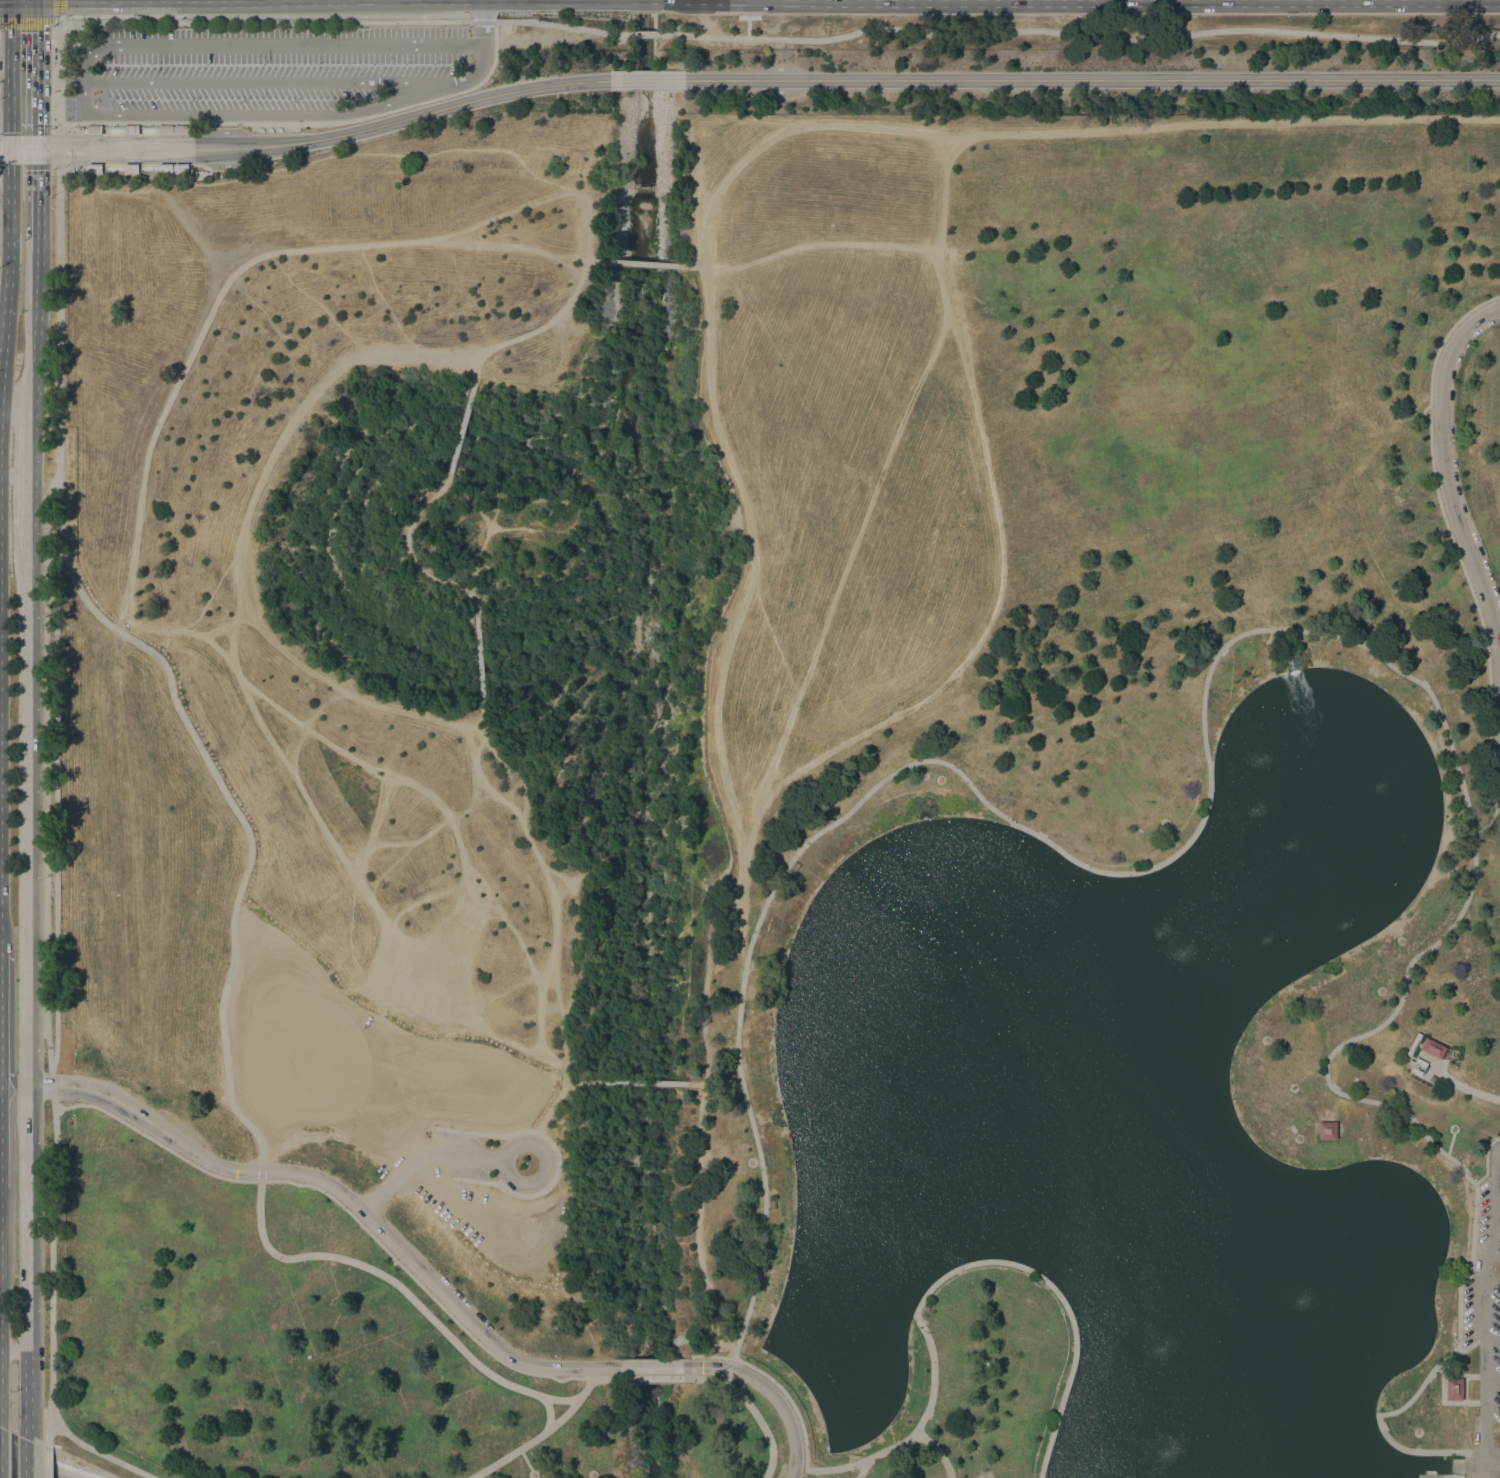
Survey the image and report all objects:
road: (54, 9)
road: (27, 19)
road: (342, 20)
road: (647, 33)
road: (1081, 36)
road: (36, 40)
road: (268, 44)
road: (10, 57)
road: (479, 60)
parking lot: (261, 66)
road: (55, 76)
road: (256, 81)
road: (58, 82)
road: (243, 114)
road: (36, 115)
road: (5, 117)
road: (303, 122)
building: (94, 129)
building: (130, 129)
building: (164, 129)
building: (180, 129)
road: (124, 131)
road: (10, 132)
road: (1059, 132)
traffic signals: (10, 148)
traffic signals: (36, 148)
road: (58, 148)
road: (9, 165)
road: (125, 165)
building: (129, 168)
building: (94, 169)
building: (164, 169)
building: (180, 169)
road: (4, 182)
road: (935, 223)
road: (37, 226)
road: (804, 246)
road: (595, 260)
road: (640, 263)
road: (8, 271)
road: (58, 318)
road: (534, 329)
road: (34, 353)
road: (16, 402)
road: (460, 429)
road: (31, 475)
road: (1445, 486)
road: (243, 533)
road: (1456, 550)
road: (412, 554)
road: (131, 561)
road: (992, 611)
road: (121, 618)
road: (227, 624)
road: (818, 641)
road: (164, 644)
road: (478, 660)
road: (720, 673)
park: (760, 753)
road: (46, 768)
road: (55, 770)
park: (788, 800)
road: (240, 819)
road: (1006, 819)
road: (581, 910)
road: (28, 991)
road: (1361, 1034)
building: (1433, 1048)
road: (579, 1081)
road: (641, 1082)
road: (696, 1083)
road: (1462, 1086)
parking lot: (378, 1088)
building: (1327, 1130)
road: (507, 1149)
road: (421, 1156)
road: (1485, 1159)
road: (260, 1170)
road: (330, 1186)
road: (343, 1206)
road: (697, 1220)
road: (50, 1254)
road: (1013, 1264)
parking lot: (1485, 1290)
road: (1482, 1299)
road: (419, 1307)
road: (653, 1367)
road: (721, 1368)
road: (1427, 1375)
road: (654, 1378)
building: (1452, 1389)
road: (771, 1393)
road: (751, 1410)
road: (564, 1414)
road: (523, 1446)
road: (937, 1450)
road: (98, 1452)
road: (805, 1452)
road: (26, 1456)
road: (1484, 1457)
road: (47, 1460)
road: (40, 1462)
road: (1460, 1465)
road: (861, 1469)
pier: (1429, 1475)

